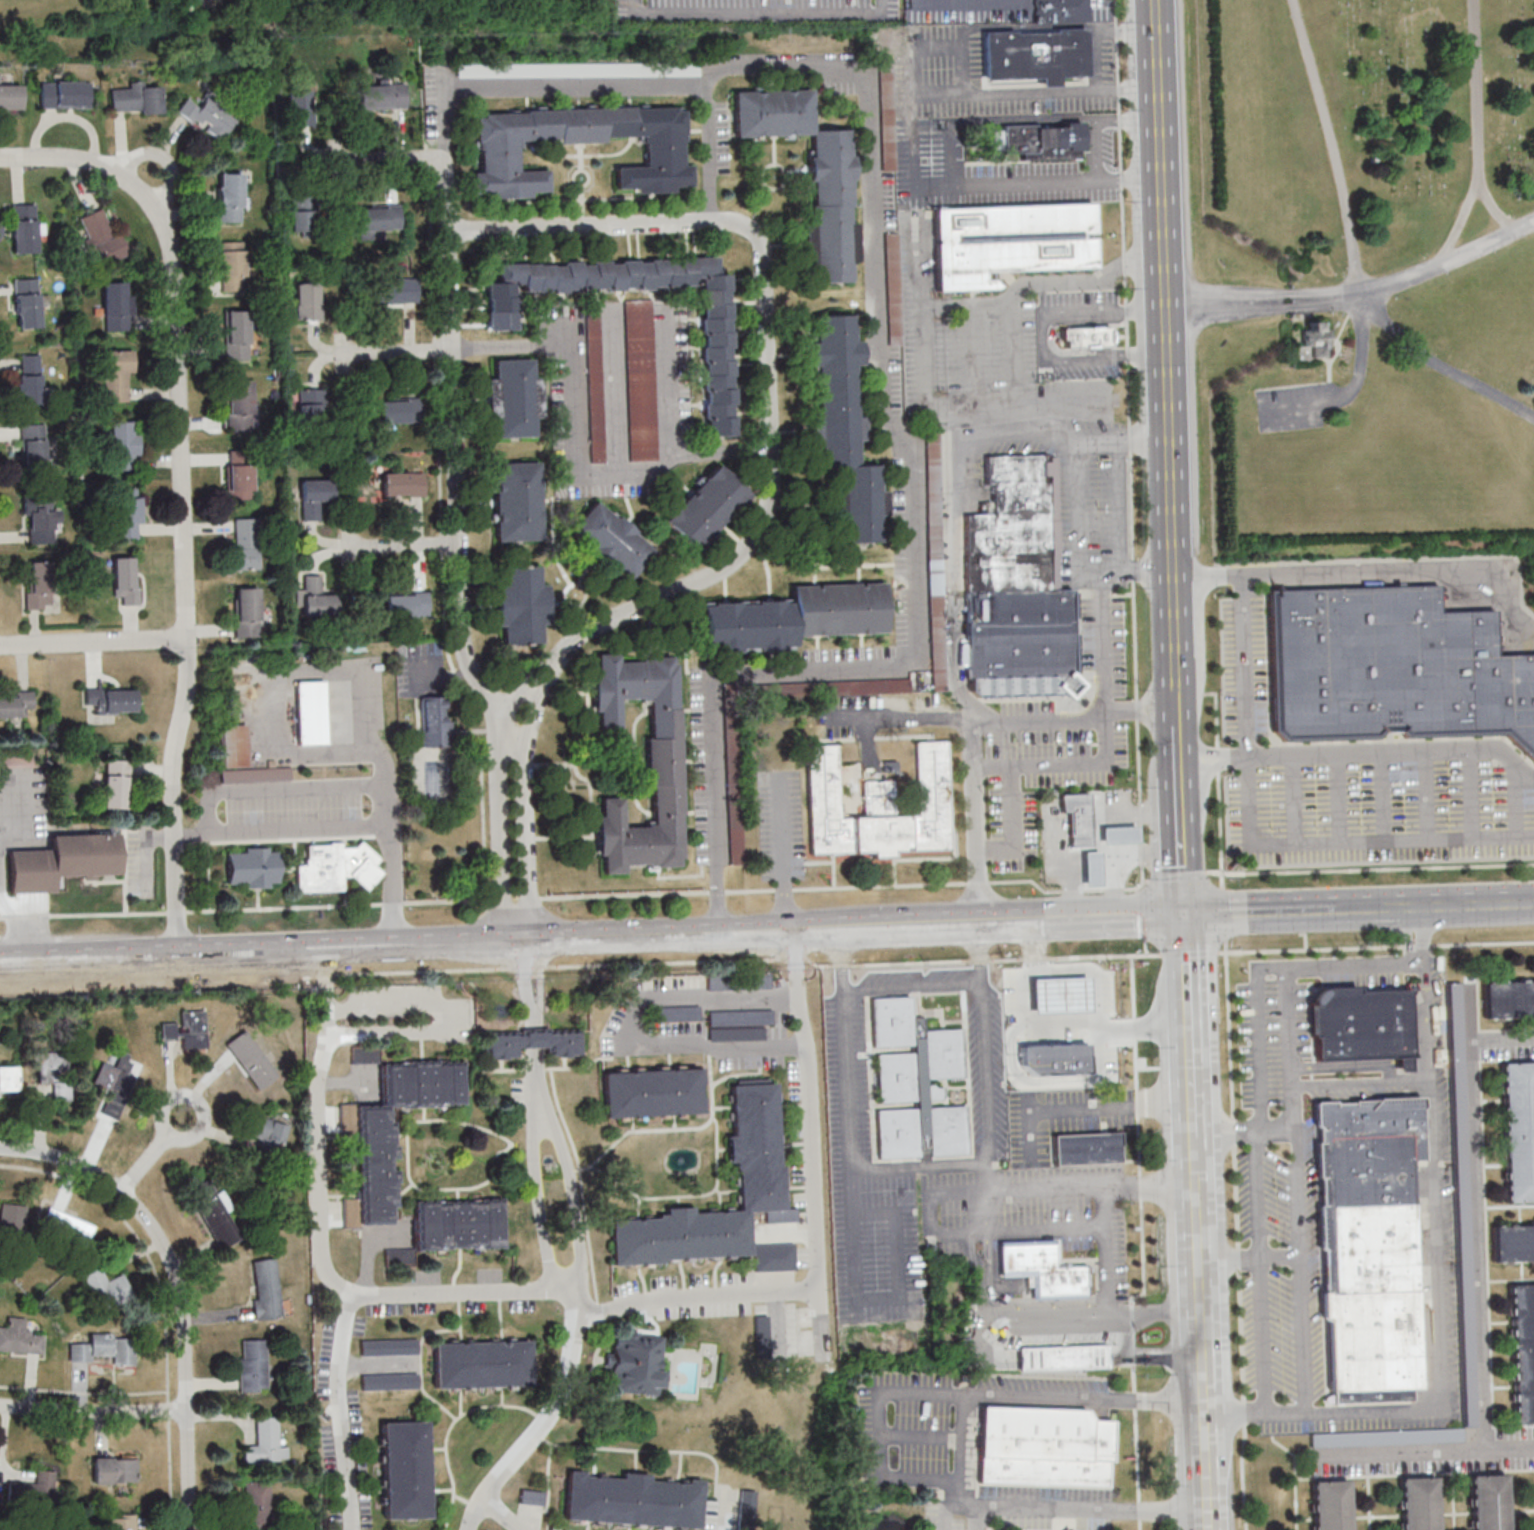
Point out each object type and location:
road: (969, 2)
road: (761, 11)
building: (1063, 11)
park: (85, 14)
road: (421, 14)
building: (1038, 56)
road: (533, 72)
road: (1043, 93)
building: (66, 94)
building: (11, 96)
building: (383, 96)
building: (137, 98)
building: (301, 107)
building: (210, 116)
road: (1480, 138)
building: (1036, 142)
building: (500, 151)
road: (162, 157)
road: (387, 159)
road: (1009, 183)
building: (230, 196)
building: (833, 208)
road: (1496, 213)
building: (305, 216)
building: (381, 218)
road: (611, 224)
building: (25, 229)
building: (102, 235)
road: (1352, 238)
building: (1010, 245)
building: (232, 267)
park: (1363, 280)
building: (397, 290)
building: (308, 300)
road: (1368, 302)
building: (28, 303)
road: (988, 304)
building: (116, 305)
road: (1349, 320)
building: (237, 334)
road: (1167, 338)
building: (1087, 340)
building: (1312, 343)
road: (394, 351)
road: (1013, 352)
road: (1363, 356)
road: (1333, 359)
road: (438, 360)
road: (1327, 361)
building: (117, 375)
building: (30, 379)
building: (641, 380)
building: (720, 382)
road: (664, 384)
road: (768, 384)
building: (596, 395)
building: (515, 396)
building: (240, 404)
building: (311, 406)
parking lot: (1295, 408)
building: (401, 410)
road: (968, 414)
building: (847, 425)
road: (903, 436)
road: (1020, 436)
road: (457, 438)
road: (1146, 441)
road: (1102, 442)
building: (123, 444)
road: (580, 445)
road: (1132, 445)
building: (33, 448)
building: (240, 474)
building: (404, 484)
building: (935, 492)
road: (185, 494)
building: (316, 496)
building: (520, 501)
building: (710, 506)
building: (128, 508)
road: (1124, 508)
building: (41, 518)
building: (615, 539)
building: (246, 544)
road: (400, 546)
road: (1084, 552)
road: (1385, 573)
building: (124, 579)
road: (960, 582)
building: (40, 584)
building: (1020, 593)
building: (319, 598)
building: (408, 604)
building: (524, 605)
building: (247, 611)
road: (631, 611)
building: (801, 617)
road: (96, 641)
road: (1109, 657)
parking lot: (1243, 666)
building: (1390, 668)
road: (309, 671)
road: (1178, 682)
road: (1157, 696)
building: (112, 699)
road: (1249, 700)
building: (15, 705)
road: (1179, 710)
building: (312, 712)
road: (1159, 717)
road: (981, 721)
building: (436, 722)
road: (510, 727)
building: (234, 745)
road: (1398, 752)
road: (1182, 758)
building: (272, 763)
building: (256, 774)
road: (283, 789)
road: (528, 803)
parking lot: (1377, 816)
building: (1081, 817)
road: (979, 820)
road: (502, 824)
road: (282, 827)
building: (1121, 834)
road: (1185, 847)
road: (788, 854)
building: (254, 867)
building: (337, 867)
building: (1093, 868)
road: (393, 884)
road: (572, 897)
road: (1471, 898)
road: (1297, 904)
traffic signals: (1188, 909)
road: (1085, 913)
road: (1143, 915)
road: (982, 918)
road: (912, 920)
road: (818, 924)
road: (1482, 942)
road: (396, 944)
road: (1424, 944)
road: (1409, 946)
road: (1415, 946)
road: (1147, 948)
road: (982, 949)
road: (1312, 949)
road: (1190, 953)
road: (845, 955)
road: (1105, 955)
road: (1415, 957)
road: (1036, 958)
road: (1006, 959)
road: (979, 960)
road: (791, 961)
road: (645, 962)
road: (907, 962)
road: (1417, 963)
road: (818, 965)
road: (839, 965)
road: (1294, 967)
road: (424, 970)
road: (326, 973)
road: (311, 975)
road: (525, 978)
road: (539, 979)
road: (915, 984)
road: (1098, 992)
building: (1061, 995)
road: (1228, 1012)
road: (443, 1018)
road: (1427, 1020)
road: (1134, 1021)
road: (536, 1022)
road: (1194, 1022)
road: (1063, 1024)
building: (1363, 1024)
road: (638, 1028)
road: (537, 1034)
road: (1257, 1035)
building: (534, 1042)
building: (367, 1054)
building: (253, 1059)
building: (1055, 1059)
building: (54, 1072)
building: (119, 1075)
road: (1019, 1077)
building: (8, 1078)
road: (539, 1079)
road: (1291, 1083)
building: (654, 1092)
road: (1137, 1100)
road: (1091, 1107)
building: (349, 1117)
building: (1518, 1130)
building: (268, 1131)
building: (377, 1137)
road: (814, 1142)
road: (1139, 1144)
building: (1087, 1148)
road: (1200, 1154)
road: (154, 1155)
building: (1458, 1159)
road: (921, 1166)
building: (760, 1184)
road: (1141, 1186)
road: (1070, 1189)
parking lot: (1346, 1196)
road: (577, 1197)
road: (541, 1207)
building: (215, 1213)
road: (1479, 1216)
building: (12, 1221)
building: (67, 1226)
building: (455, 1227)
road: (1064, 1230)
road: (1142, 1230)
road: (322, 1240)
building: (1367, 1241)
building: (1512, 1242)
road: (1281, 1255)
building: (777, 1256)
road: (1233, 1256)
building: (1043, 1268)
road: (1107, 1272)
road: (1265, 1273)
road: (1203, 1280)
road: (177, 1285)
building: (107, 1287)
building: (268, 1288)
road: (699, 1296)
road: (882, 1299)
road: (1438, 1307)
road: (1054, 1315)
road: (1300, 1320)
building: (764, 1334)
building: (20, 1337)
building: (391, 1346)
building: (1067, 1347)
building: (108, 1350)
building: (1522, 1351)
road: (1146, 1354)
building: (638, 1363)
building: (254, 1364)
building: (484, 1364)
building: (392, 1381)
road: (94, 1411)
road: (345, 1415)
road: (551, 1419)
building: (1385, 1437)
road: (884, 1440)
building: (267, 1442)
building: (1043, 1448)
road: (1424, 1453)
road: (1209, 1458)
building: (115, 1469)
building: (408, 1469)
building: (39, 1486)
building: (534, 1497)
building: (633, 1500)
building: (1488, 1502)
building: (1418, 1503)
building: (749, 1504)
building: (259, 1505)
building: (1330, 1505)
road: (504, 1516)
building: (124, 1522)

